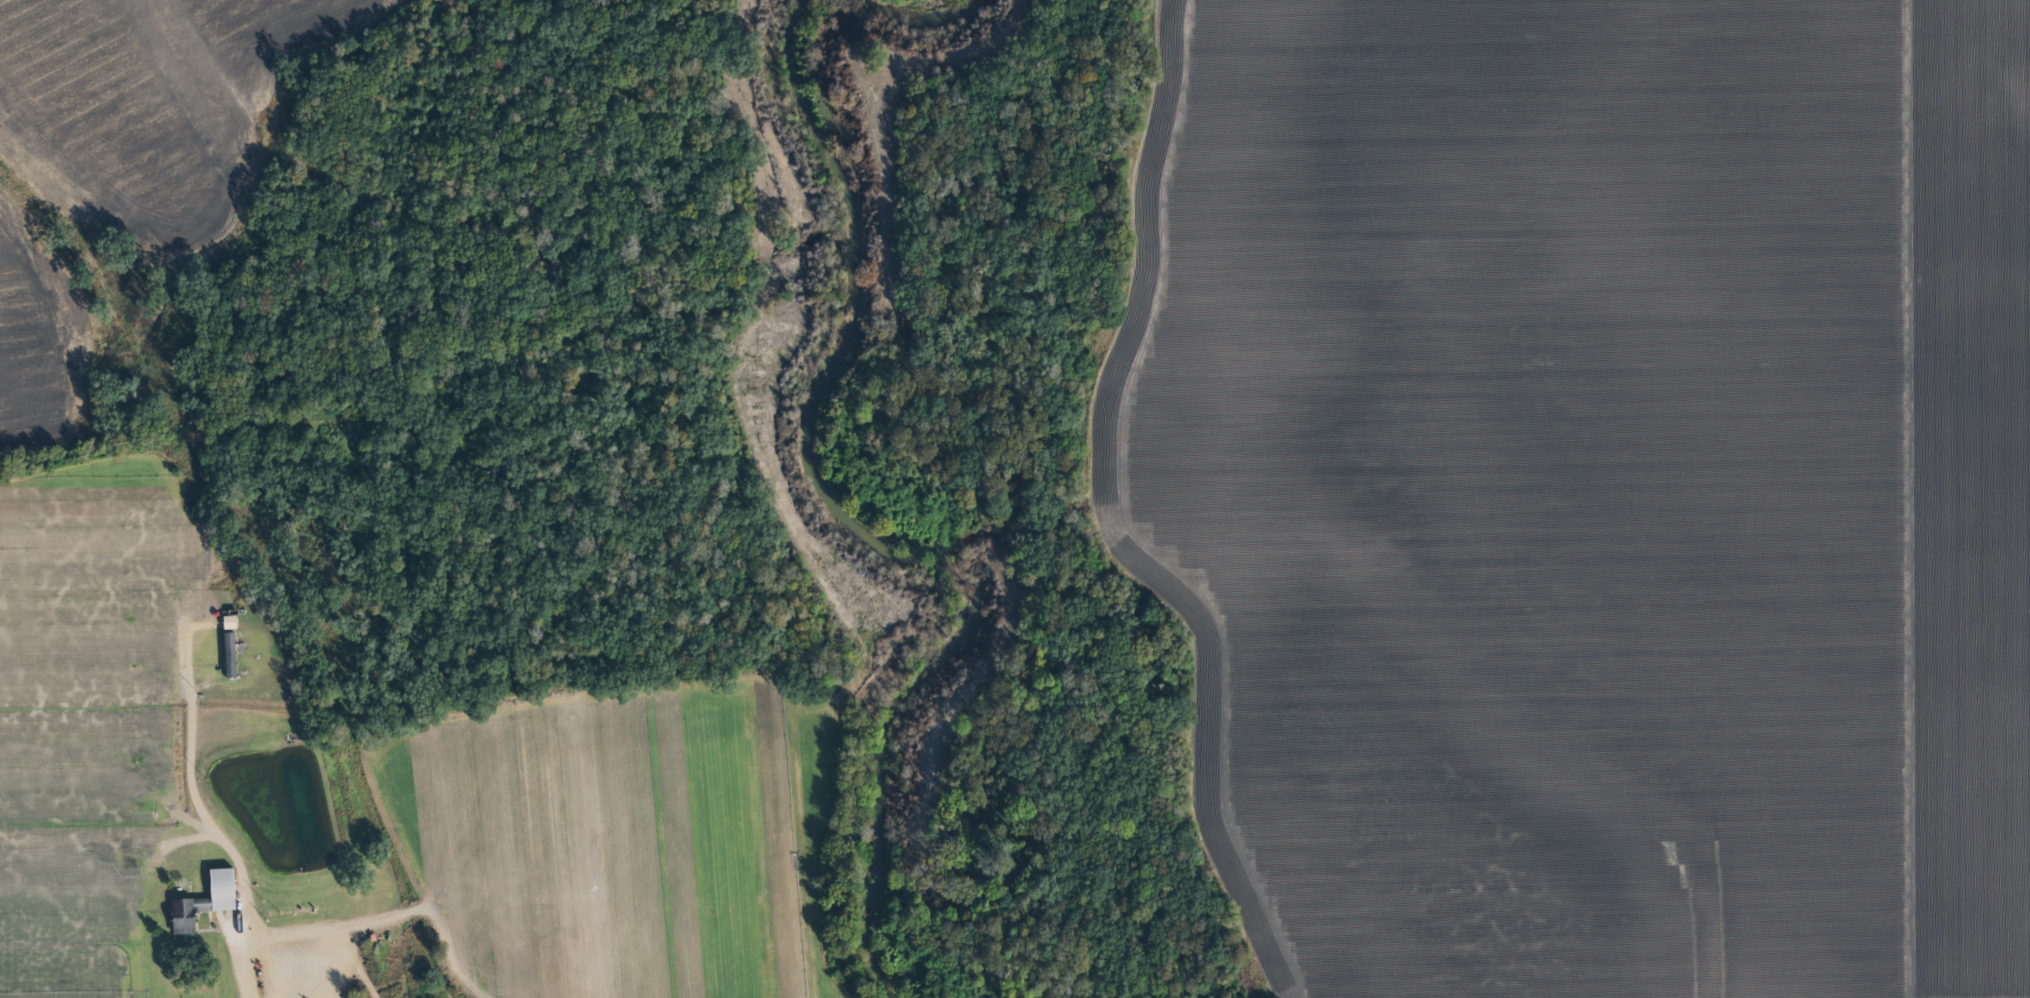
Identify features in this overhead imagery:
river: (917, 15)
river: (871, 535)
building: (227, 623)
building: (227, 662)
building: (202, 902)

